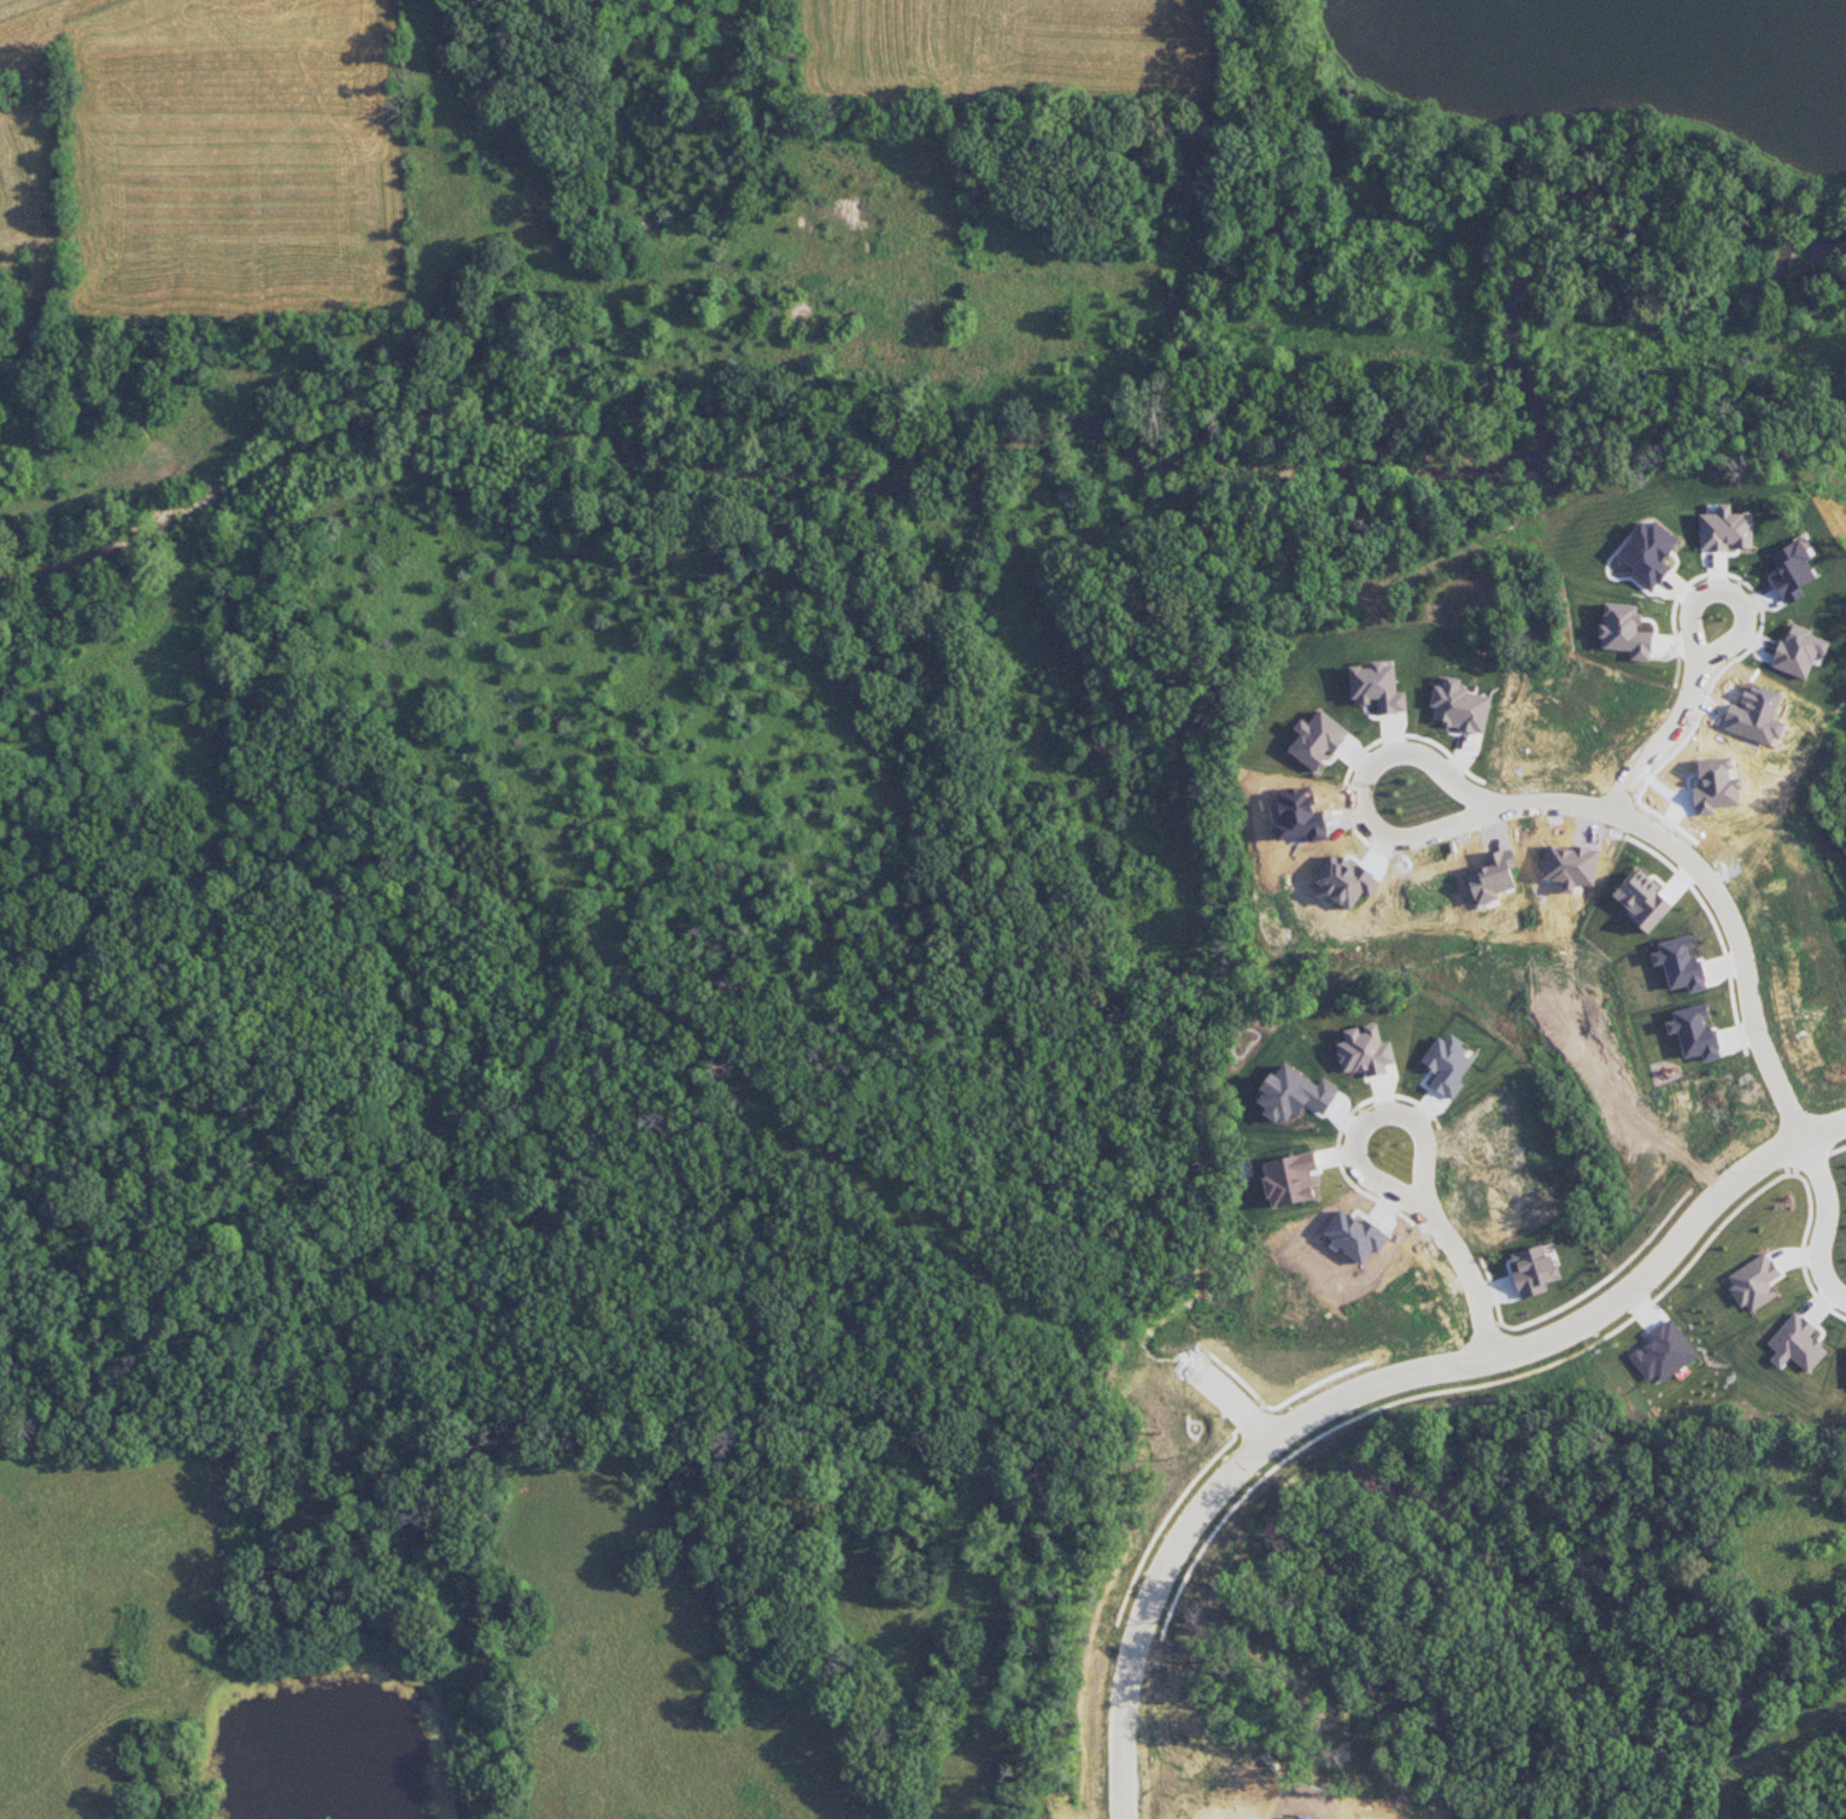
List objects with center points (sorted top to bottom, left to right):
building: (1648, 553)
building: (1625, 632)
road: (1696, 651)
building: (1378, 687)
building: (1318, 739)
road: (1578, 805)
building: (1681, 963)
building: (1694, 1032)
building: (1365, 1051)
building: (1447, 1067)
road: (1423, 1160)
building: (1290, 1179)
road: (1824, 1219)
road: (1665, 1248)
building: (1533, 1271)
building: (1754, 1283)
building: (1797, 1344)
building: (1664, 1352)
road: (1231, 1403)
road: (1203, 1514)

